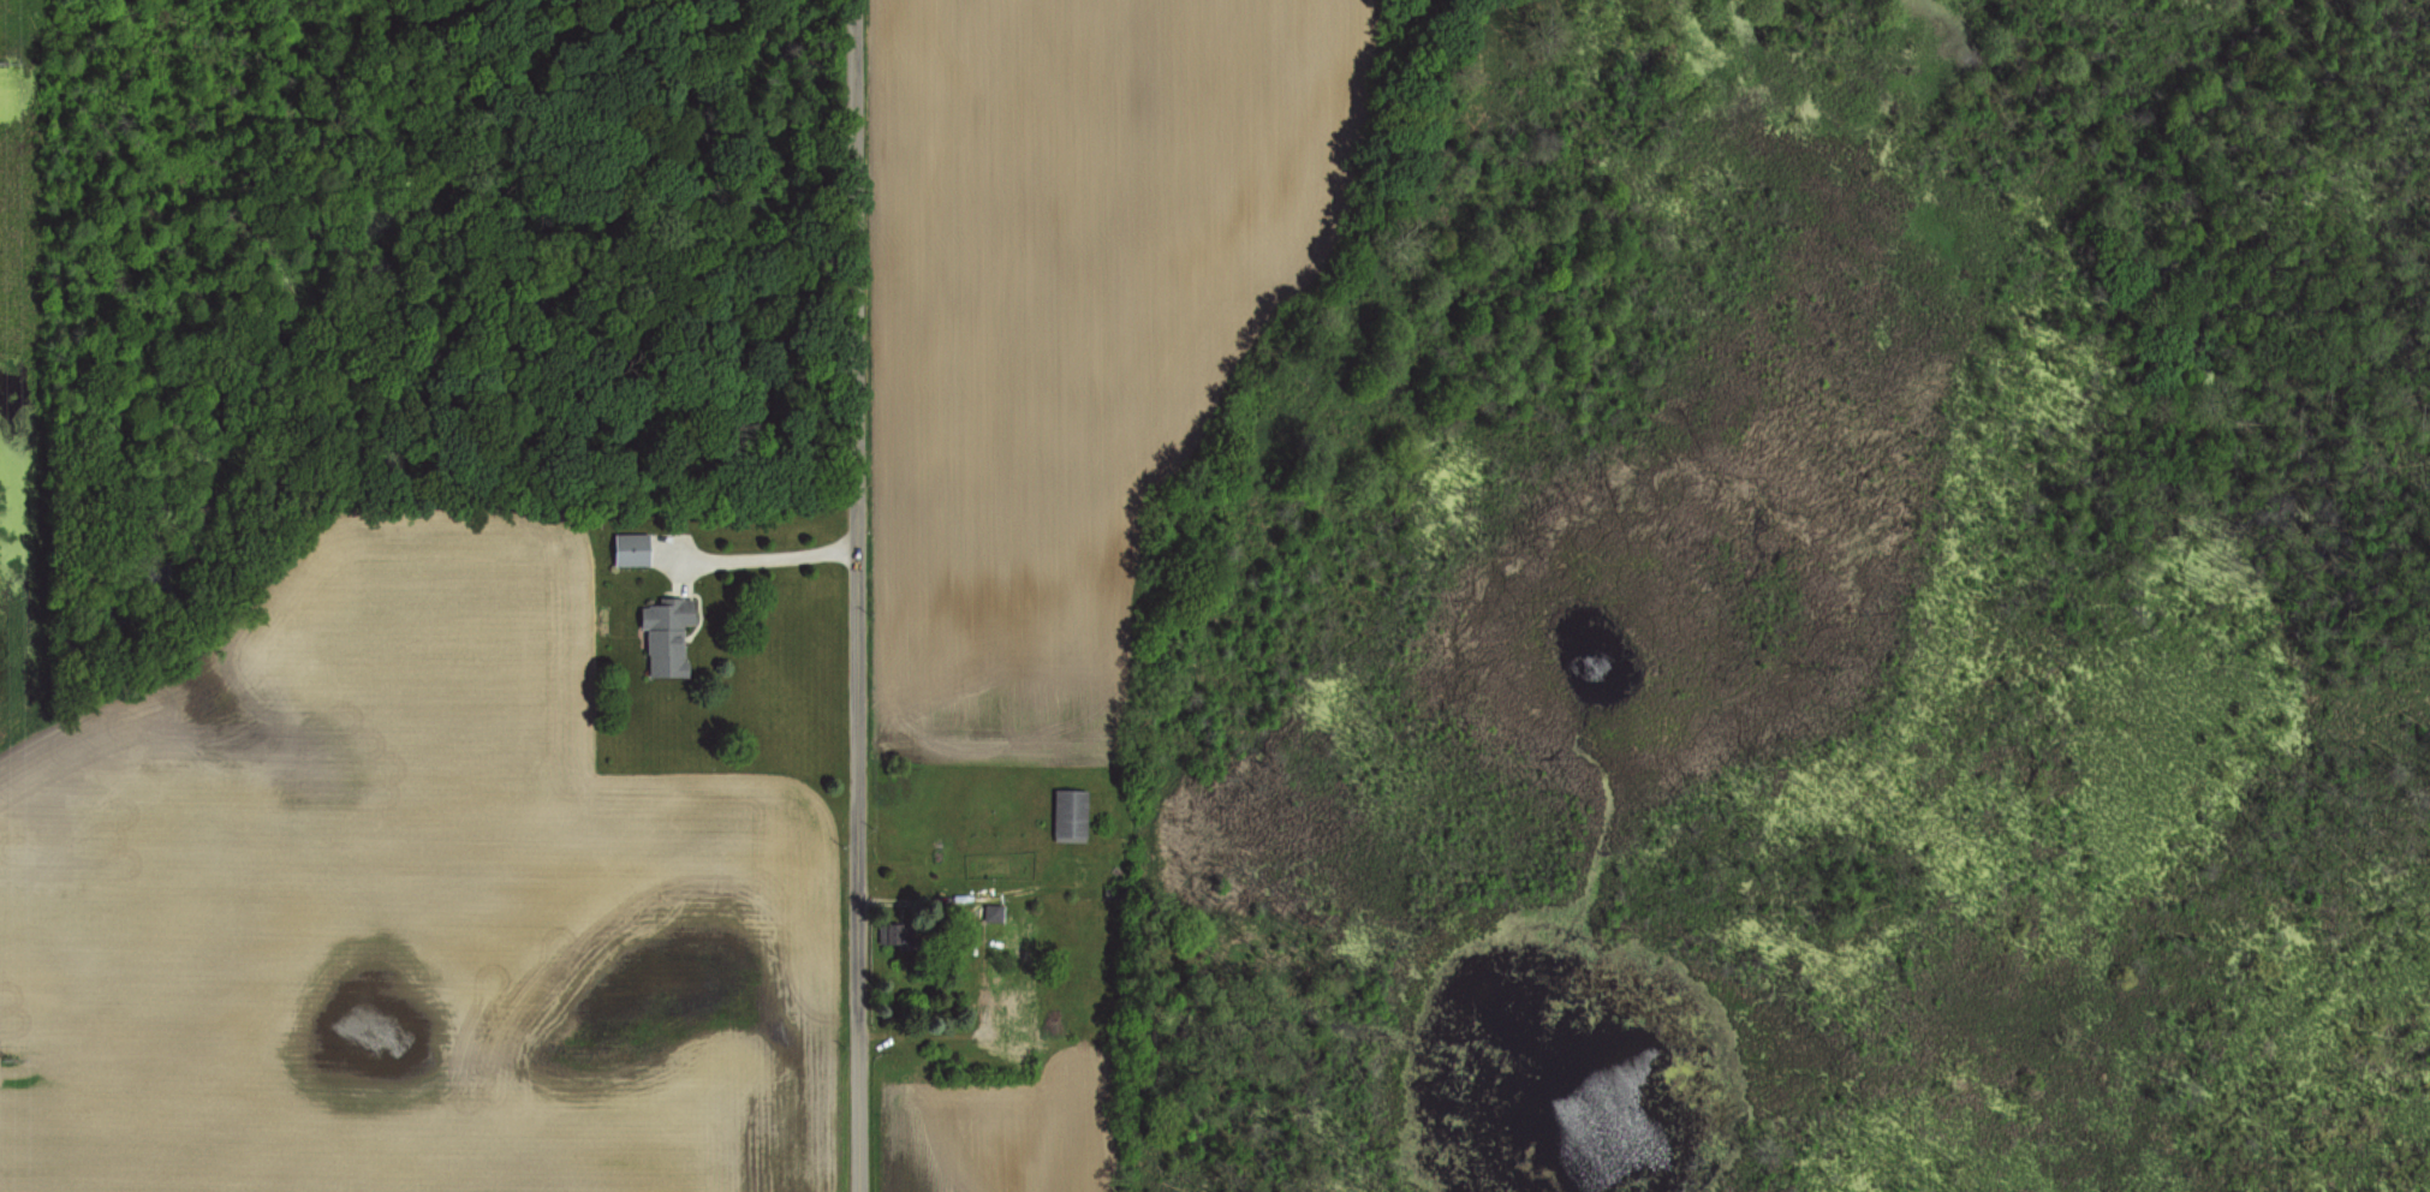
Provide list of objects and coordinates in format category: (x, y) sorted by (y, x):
building: (635, 549)
road: (761, 553)
road: (851, 596)
building: (669, 634)
building: (1073, 813)
building: (995, 912)
building: (899, 934)
building: (1014, 1015)
road: (919, 1038)

